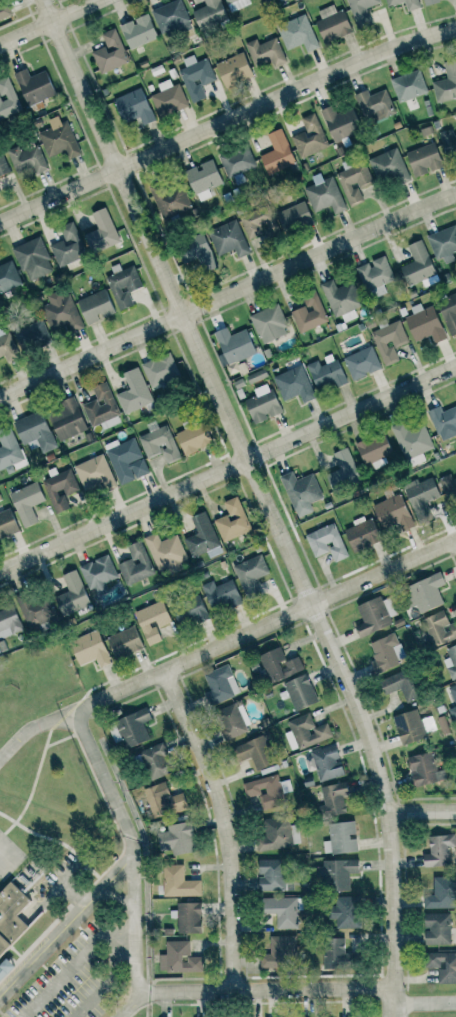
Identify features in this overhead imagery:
building: (264, 0)
building: (430, 2)
building: (236, 4)
building: (412, 4)
building: (4, 9)
building: (362, 11)
building: (210, 14)
building: (171, 18)
road: (52, 23)
building: (332, 23)
building: (139, 31)
building: (298, 33)
building: (110, 52)
building: (266, 52)
building: (234, 69)
building: (196, 77)
building: (446, 83)
building: (408, 85)
building: (35, 86)
building: (8, 99)
building: (169, 99)
building: (373, 105)
building: (134, 106)
road: (224, 121)
building: (340, 122)
building: (310, 137)
building: (59, 139)
building: (448, 142)
building: (277, 153)
building: (27, 159)
building: (424, 159)
building: (237, 161)
building: (3, 165)
building: (389, 167)
building: (203, 179)
building: (0, 190)
building: (325, 195)
building: (169, 199)
building: (295, 217)
building: (258, 223)
building: (101, 232)
building: (229, 239)
building: (443, 243)
building: (68, 246)
building: (198, 253)
building: (33, 259)
building: (417, 264)
building: (8, 276)
building: (375, 276)
building: (124, 285)
road: (225, 292)
building: (96, 306)
building: (61, 312)
building: (449, 312)
building: (309, 313)
building: (269, 324)
building: (425, 324)
building: (32, 336)
building: (389, 341)
building: (7, 344)
building: (234, 345)
building: (362, 363)
building: (160, 369)
building: (326, 373)
building: (294, 384)
building: (134, 392)
building: (263, 404)
building: (102, 407)
building: (67, 419)
building: (443, 419)
building: (35, 432)
building: (194, 436)
building: (411, 439)
building: (160, 444)
building: (374, 450)
building: (10, 452)
building: (126, 460)
road: (229, 469)
building: (343, 470)
building: (94, 473)
building: (60, 488)
building: (449, 488)
building: (301, 492)
road: (263, 496)
building: (422, 497)
building: (27, 502)
building: (393, 512)
building: (232, 520)
building: (7, 523)
building: (362, 534)
building: (202, 537)
building: (326, 542)
building: (165, 551)
building: (136, 564)
building: (98, 572)
building: (251, 574)
building: (426, 592)
building: (72, 594)
building: (221, 595)
building: (37, 609)
building: (192, 612)
building: (374, 616)
road: (274, 620)
building: (9, 621)
building: (152, 621)
building: (439, 628)
building: (125, 642)
building: (90, 648)
building: (386, 653)
building: (451, 662)
building: (280, 665)
building: (220, 685)
building: (400, 685)
building: (301, 692)
building: (453, 692)
building: (453, 712)
building: (231, 721)
road: (43, 722)
building: (409, 726)
building: (134, 727)
building: (306, 732)
building: (255, 752)
building: (156, 761)
building: (327, 763)
building: (424, 769)
building: (266, 791)
building: (333, 799)
building: (164, 800)
road: (421, 812)
road: (221, 824)
building: (278, 833)
building: (343, 837)
building: (178, 838)
building: (439, 850)
road: (120, 863)
building: (338, 874)
building: (270, 875)
building: (179, 882)
building: (442, 893)
building: (284, 911)
building: (345, 912)
building: (11, 916)
building: (189, 917)
building: (437, 928)
road: (133, 931)
road: (120, 947)
road: (127, 949)
building: (279, 953)
building: (337, 954)
building: (179, 958)
road: (75, 962)
building: (443, 966)
building: (5, 968)
road: (273, 989)
road: (97, 990)
road: (131, 997)
road: (423, 1005)
road: (26, 1014)

